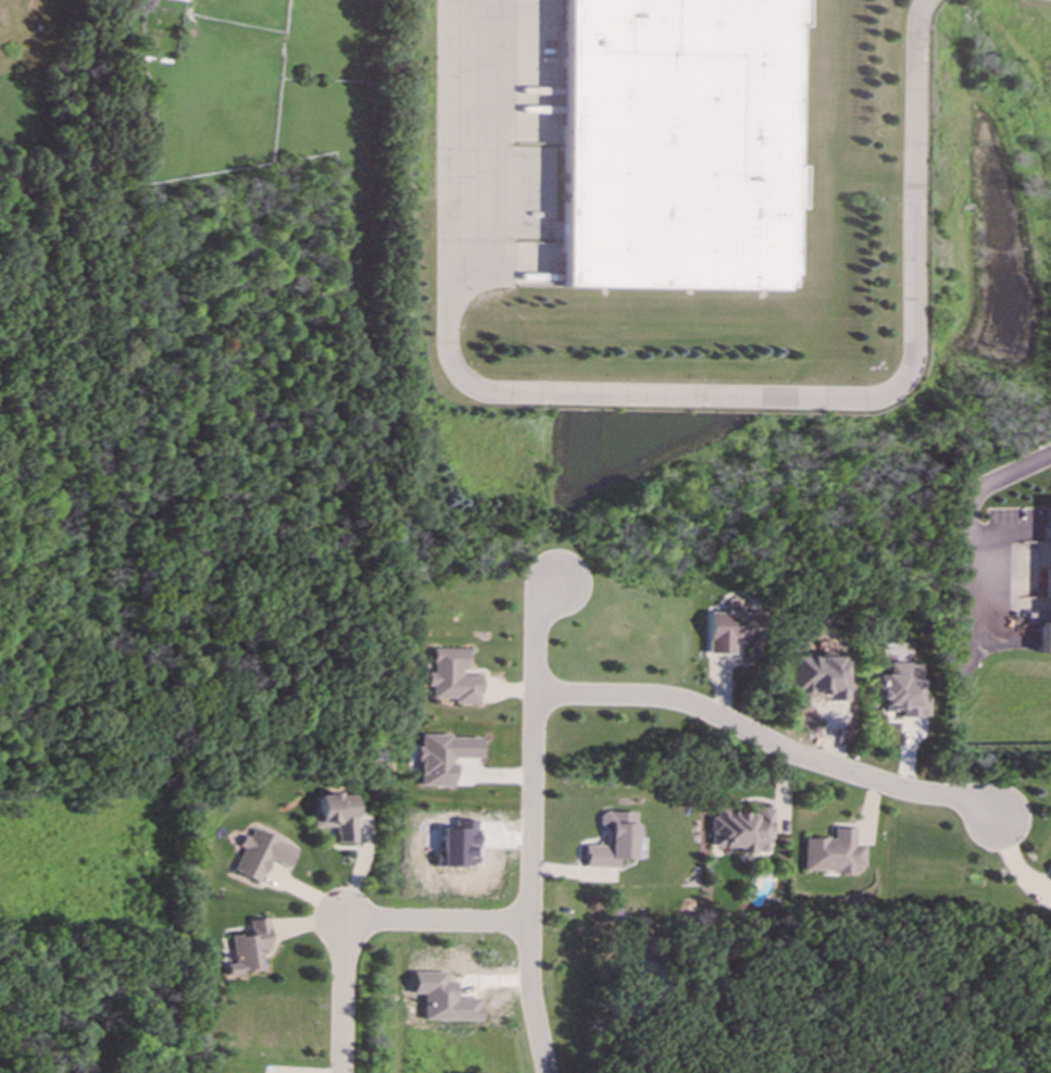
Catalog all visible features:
building: (184, 0)
building: (678, 145)
road: (683, 401)
road: (966, 551)
building: (728, 629)
building: (1048, 637)
building: (453, 677)
building: (903, 690)
road: (767, 736)
building: (445, 758)
building: (338, 815)
road: (529, 825)
building: (742, 829)
building: (614, 840)
building: (461, 845)
building: (835, 852)
building: (262, 854)
road: (437, 921)
building: (251, 948)
road: (340, 994)
building: (443, 998)

